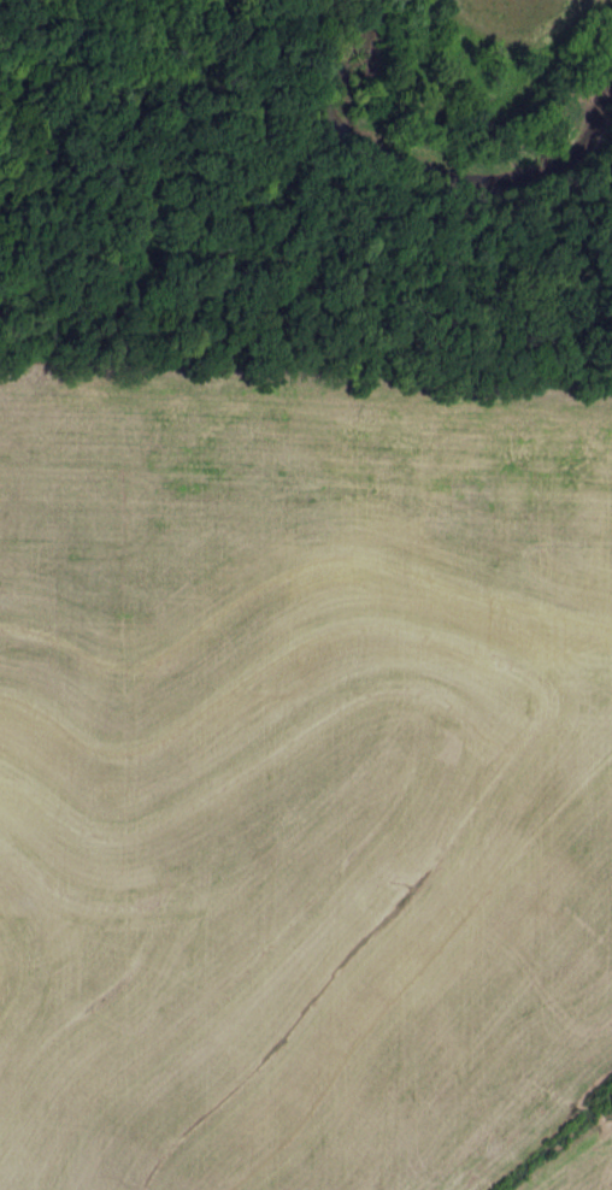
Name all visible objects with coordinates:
river: (431, 159)

